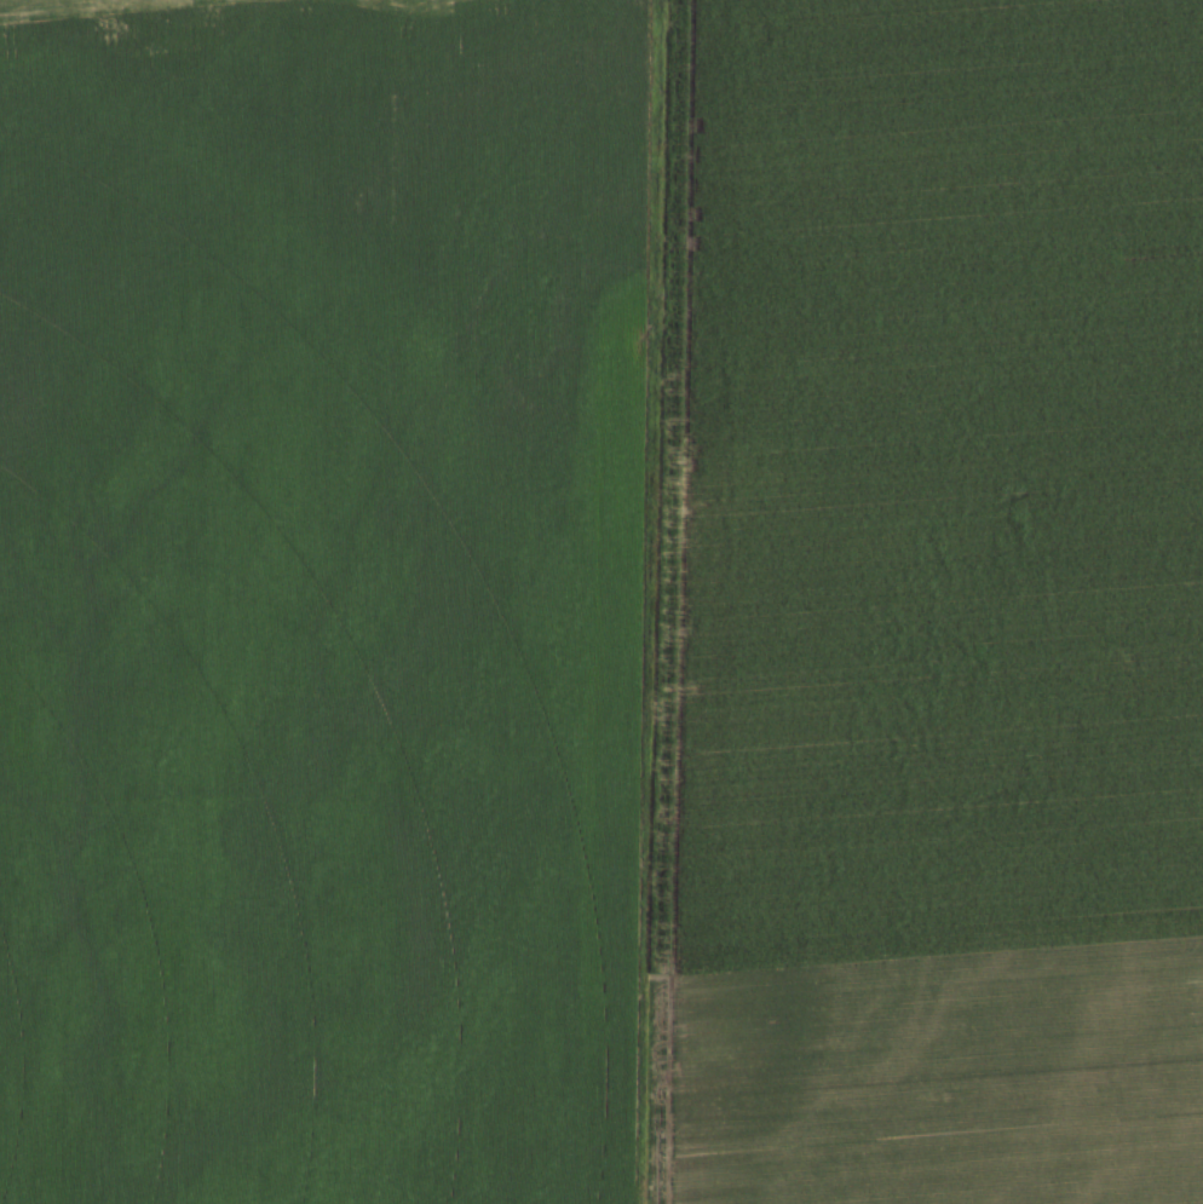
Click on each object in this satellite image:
crop: (601, 601)

